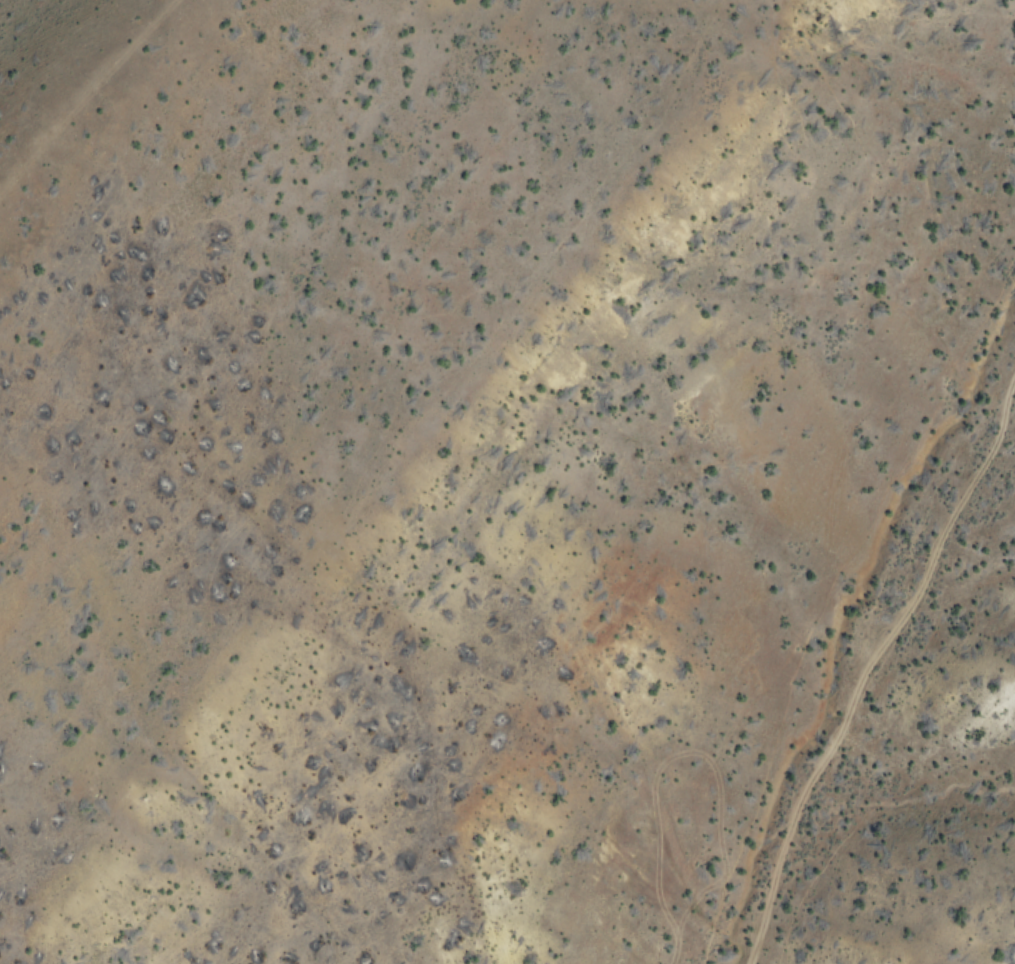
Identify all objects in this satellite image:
road: (882, 686)

